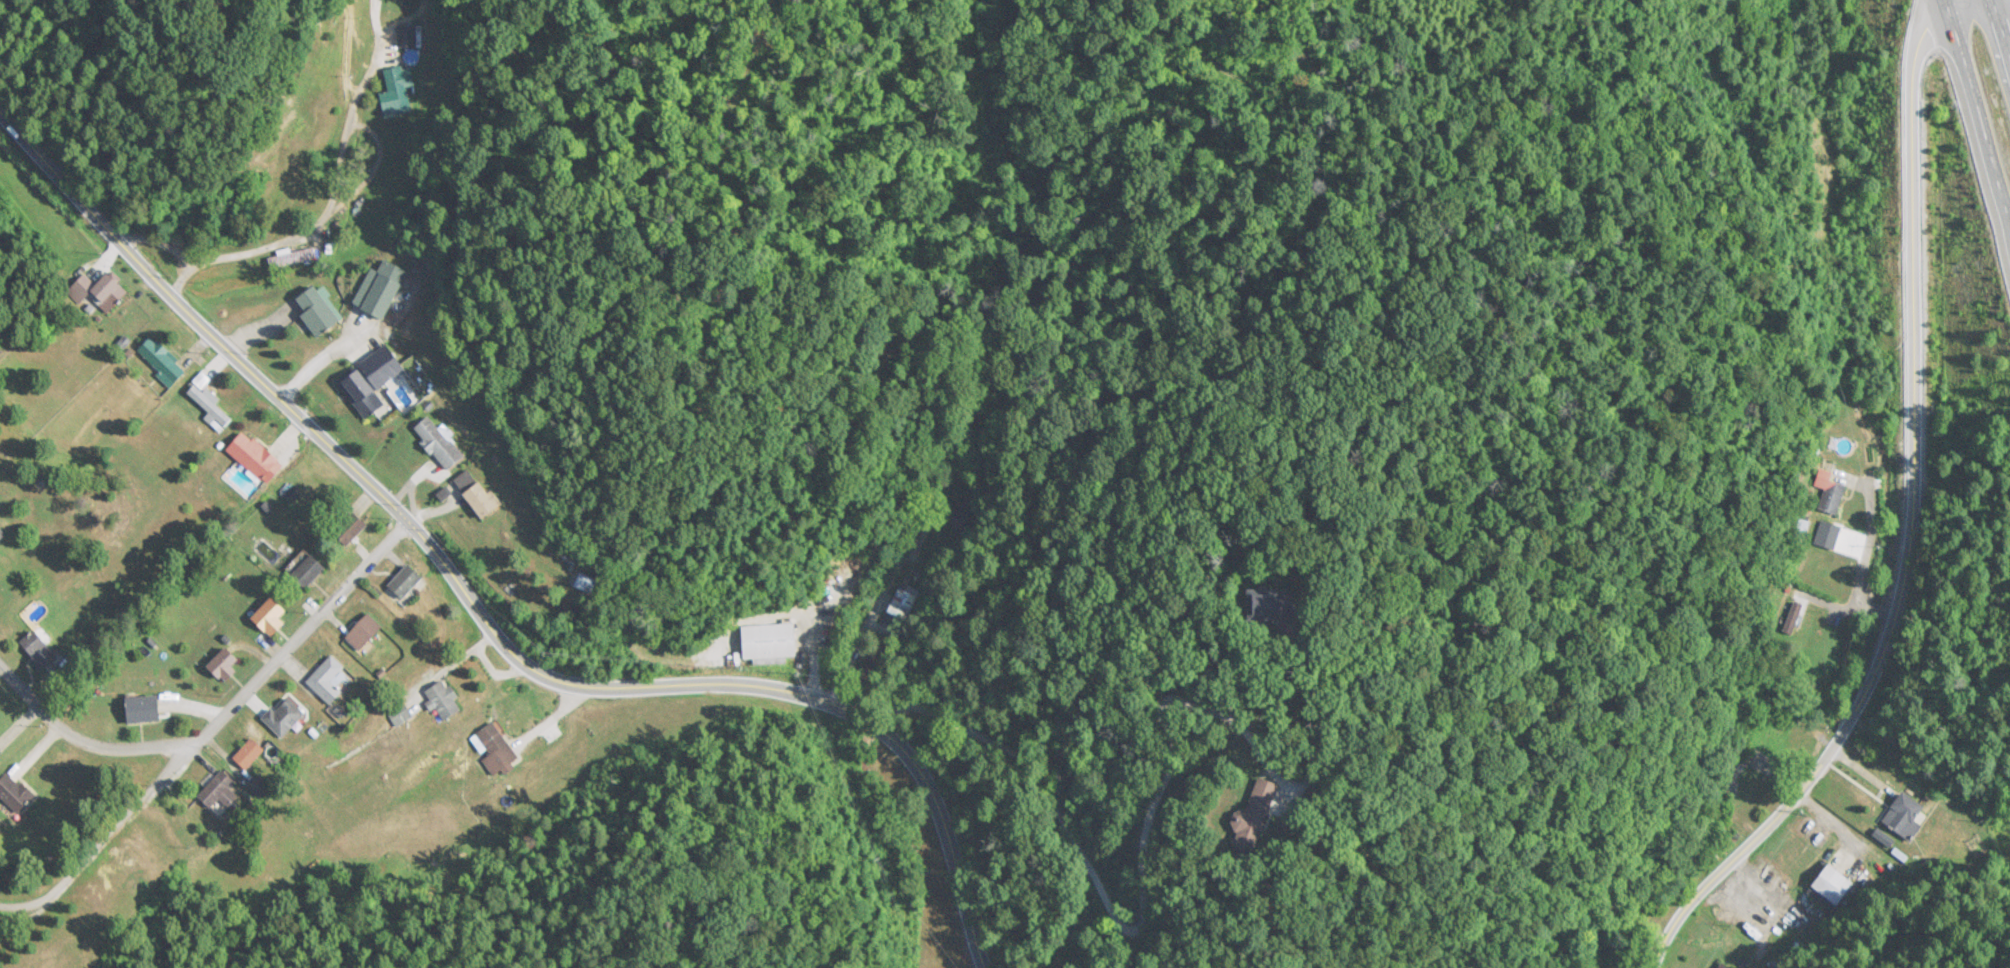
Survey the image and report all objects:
road: (2000, 30)
building: (410, 36)
building: (397, 89)
road: (1977, 110)
road: (326, 180)
road: (2008, 228)
road: (165, 249)
building: (382, 288)
building: (99, 291)
building: (321, 310)
road: (195, 321)
building: (162, 360)
road: (319, 361)
building: (371, 380)
building: (209, 402)
building: (439, 443)
building: (256, 457)
building: (1830, 490)
building: (477, 493)
building: (958, 518)
road: (1909, 521)
building: (351, 528)
building: (3, 533)
building: (310, 571)
building: (407, 582)
building: (591, 582)
building: (901, 603)
building: (1274, 605)
building: (1794, 613)
building: (270, 614)
building: (366, 632)
building: (772, 641)
building: (40, 649)
building: (227, 664)
building: (330, 679)
road: (743, 687)
building: (448, 700)
building: (145, 709)
building: (286, 717)
road: (212, 727)
building: (494, 738)
road: (85, 741)
building: (251, 753)
building: (263, 786)
building: (221, 790)
building: (13, 791)
building: (1263, 813)
building: (1906, 816)
building: (1833, 886)
building: (1726, 965)

